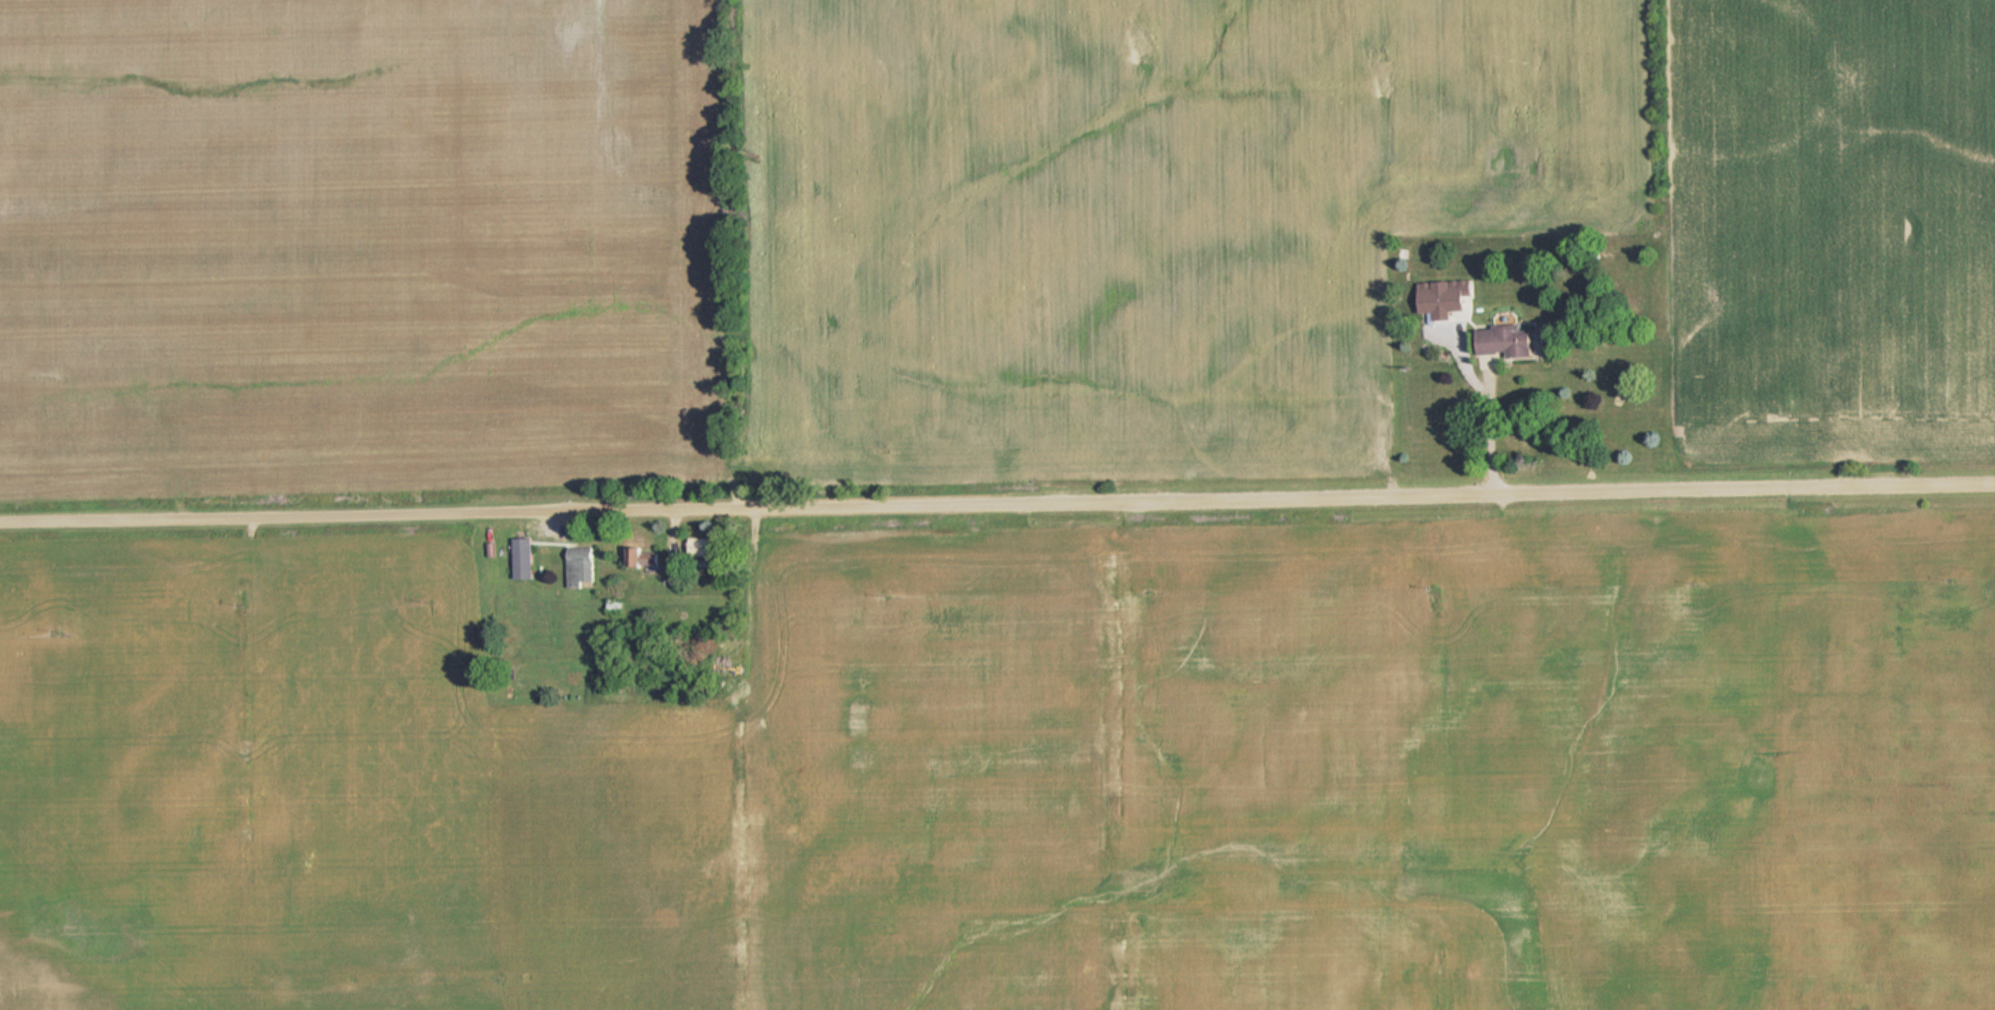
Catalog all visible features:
building: (1447, 297)
building: (1508, 341)
road: (997, 490)
building: (701, 546)
building: (646, 555)
building: (524, 557)
building: (581, 565)

